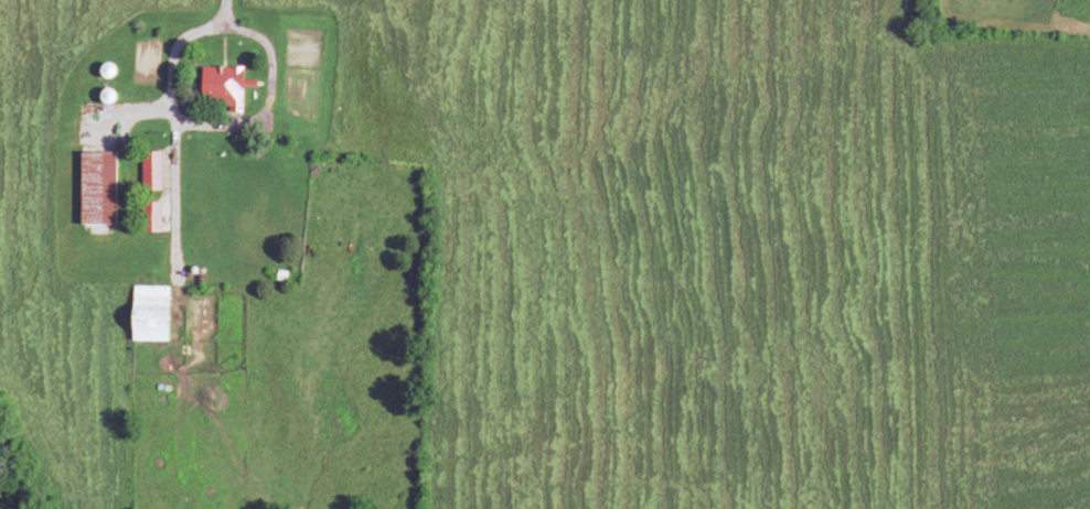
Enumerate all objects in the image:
road: (225, 12)
road: (186, 35)
road: (431, 78)
building: (216, 89)
building: (148, 171)
building: (93, 188)
building: (143, 314)

